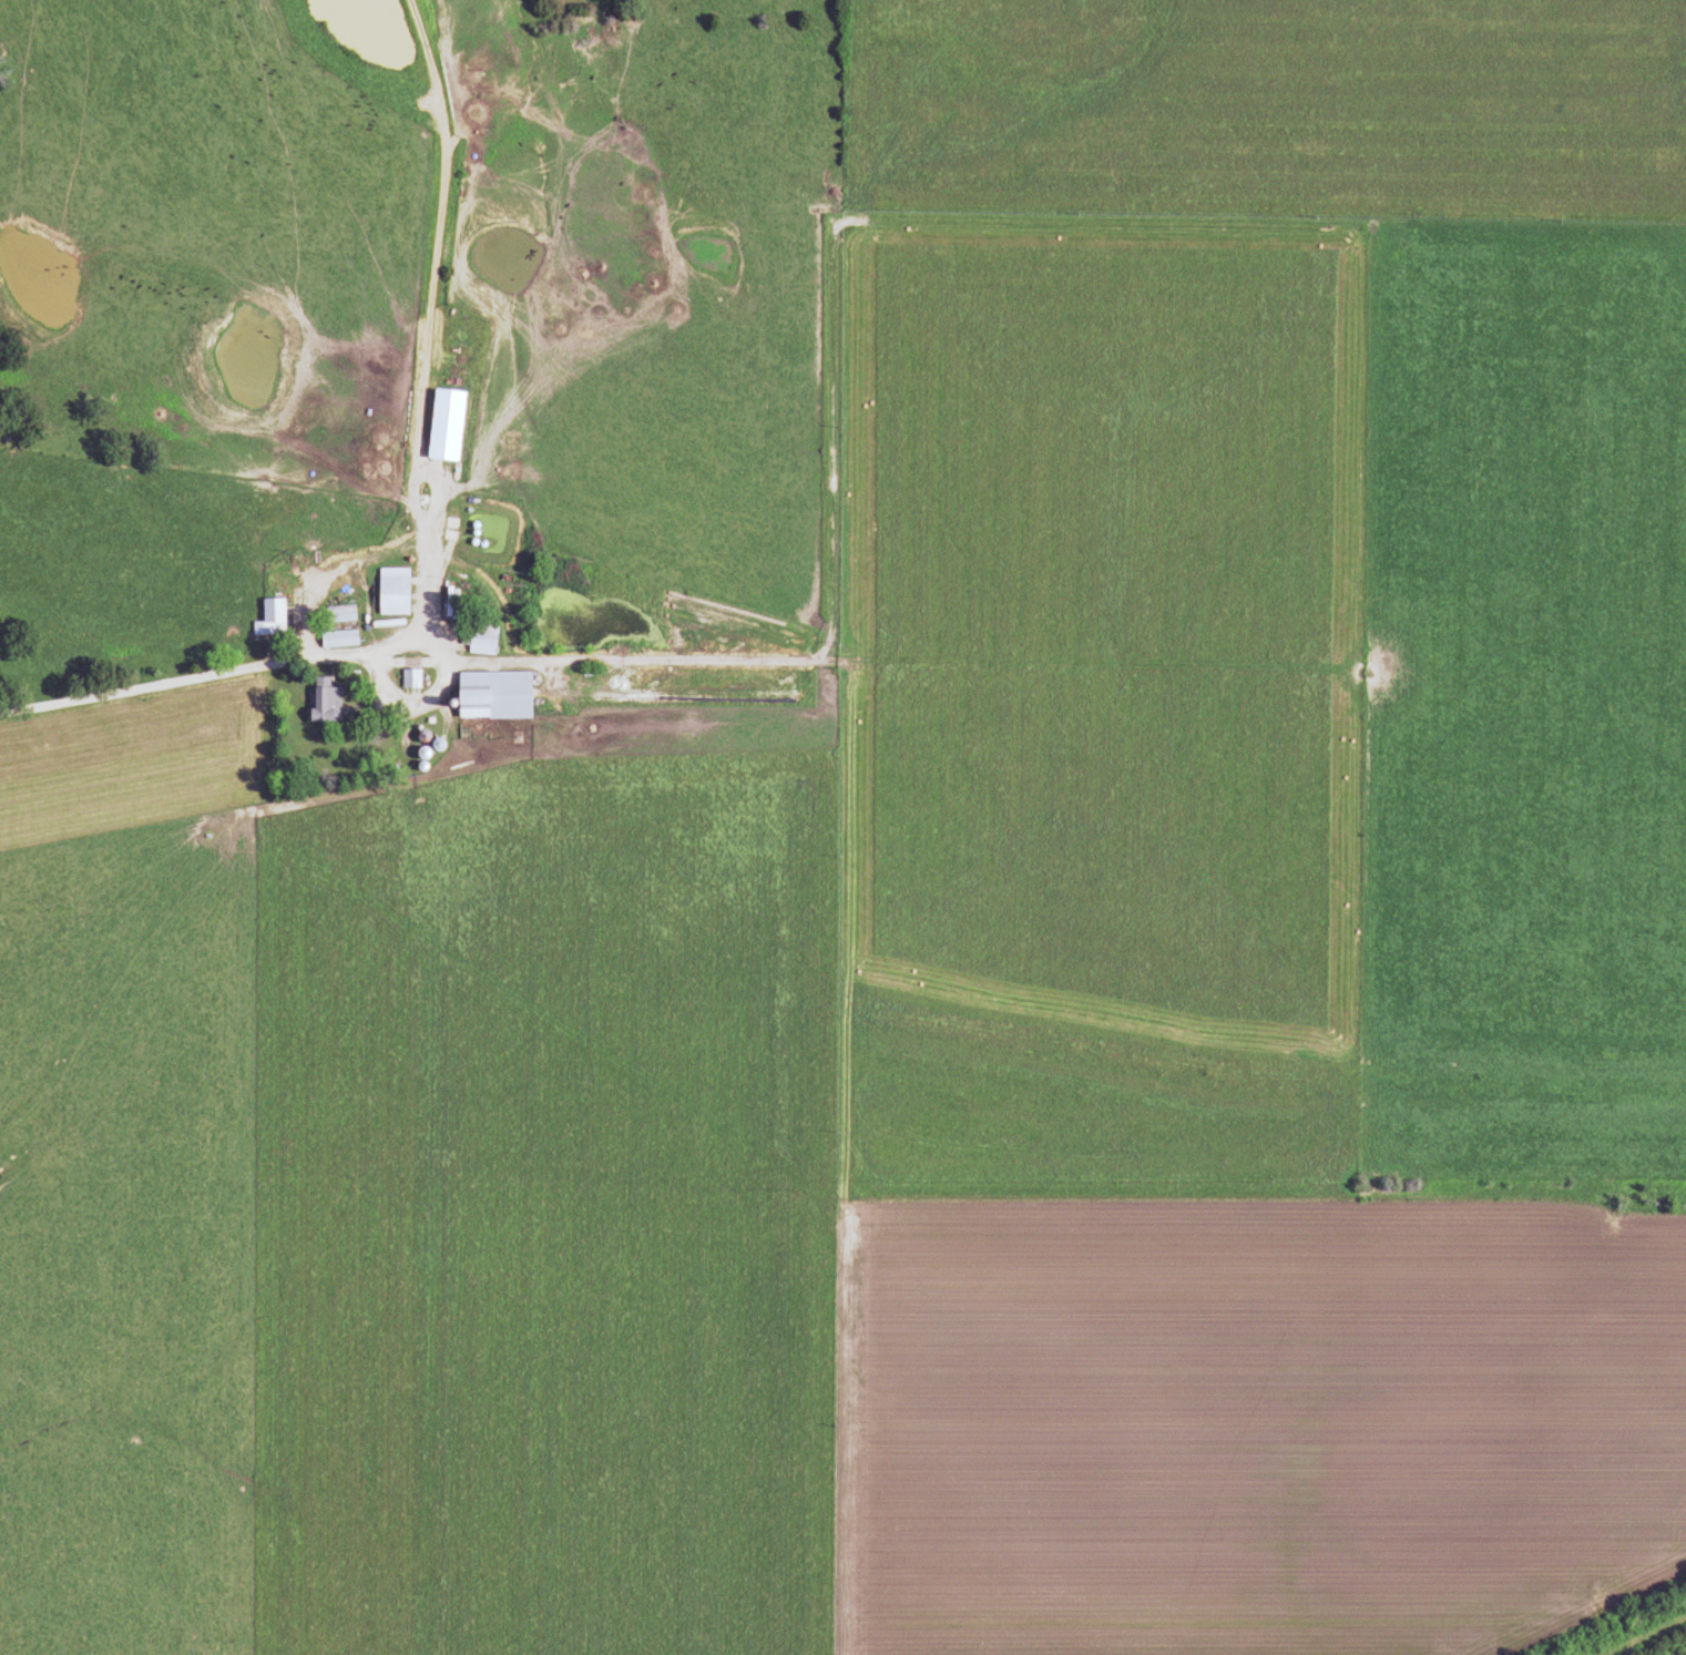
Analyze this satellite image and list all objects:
building: (389, 592)
building: (337, 614)
building: (267, 620)
building: (335, 640)
building: (479, 640)
road: (242, 666)
building: (407, 680)
building: (490, 696)
building: (323, 704)
railway: (1616, 1623)

